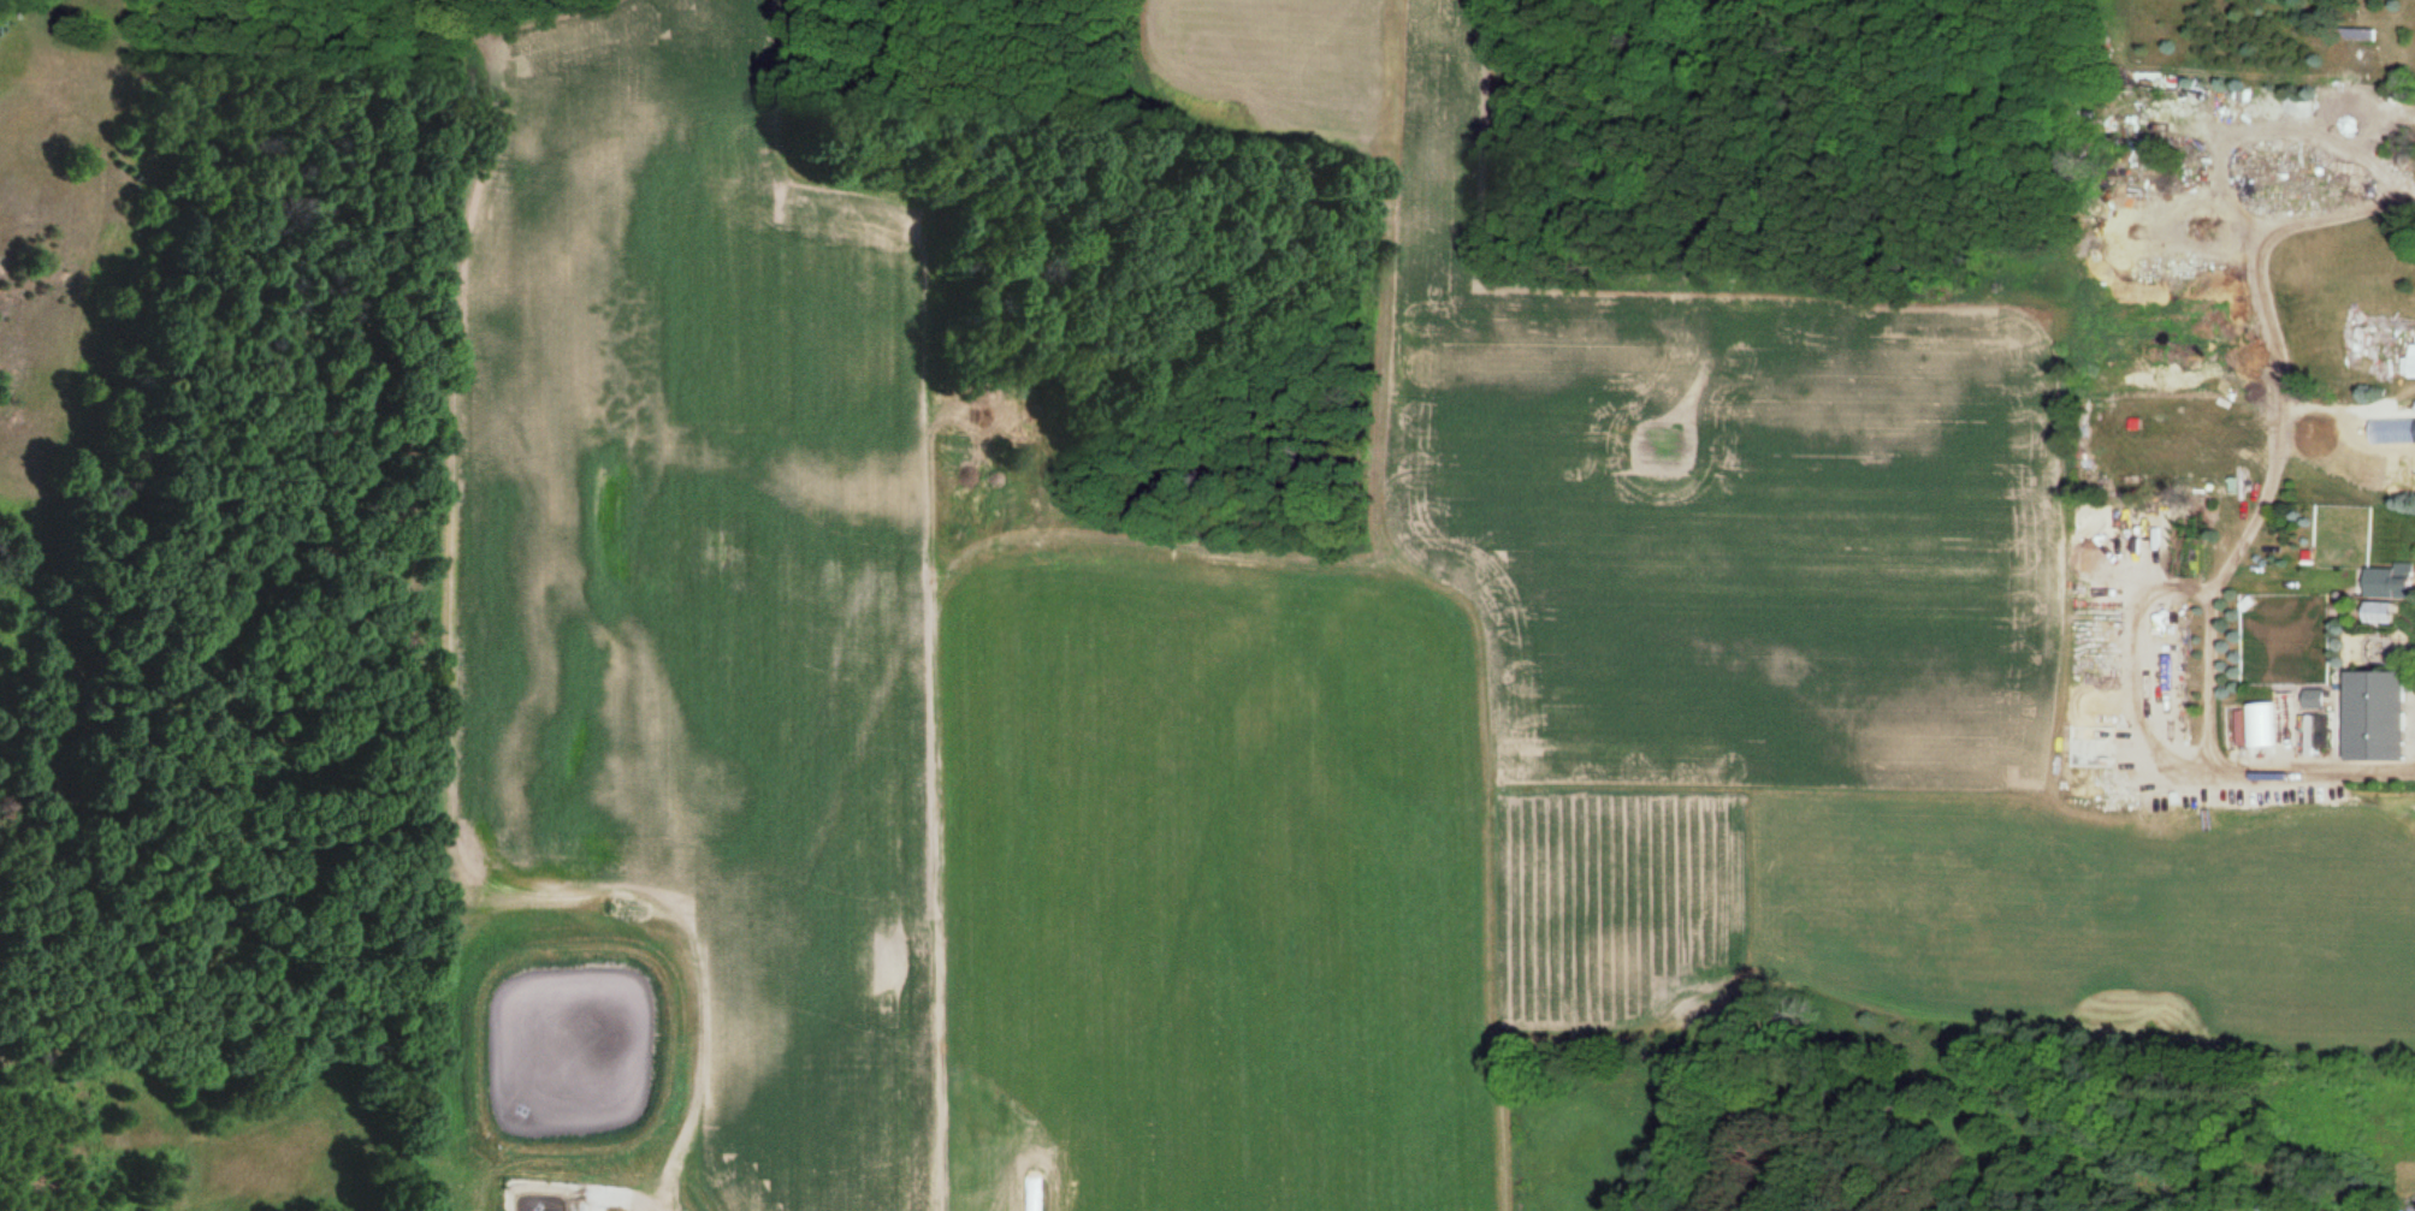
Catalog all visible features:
building: (2354, 34)
building: (2133, 266)
building: (2409, 361)
building: (2385, 583)
building: (2310, 699)
building: (2370, 717)
building: (2256, 725)
building: (2408, 1209)

